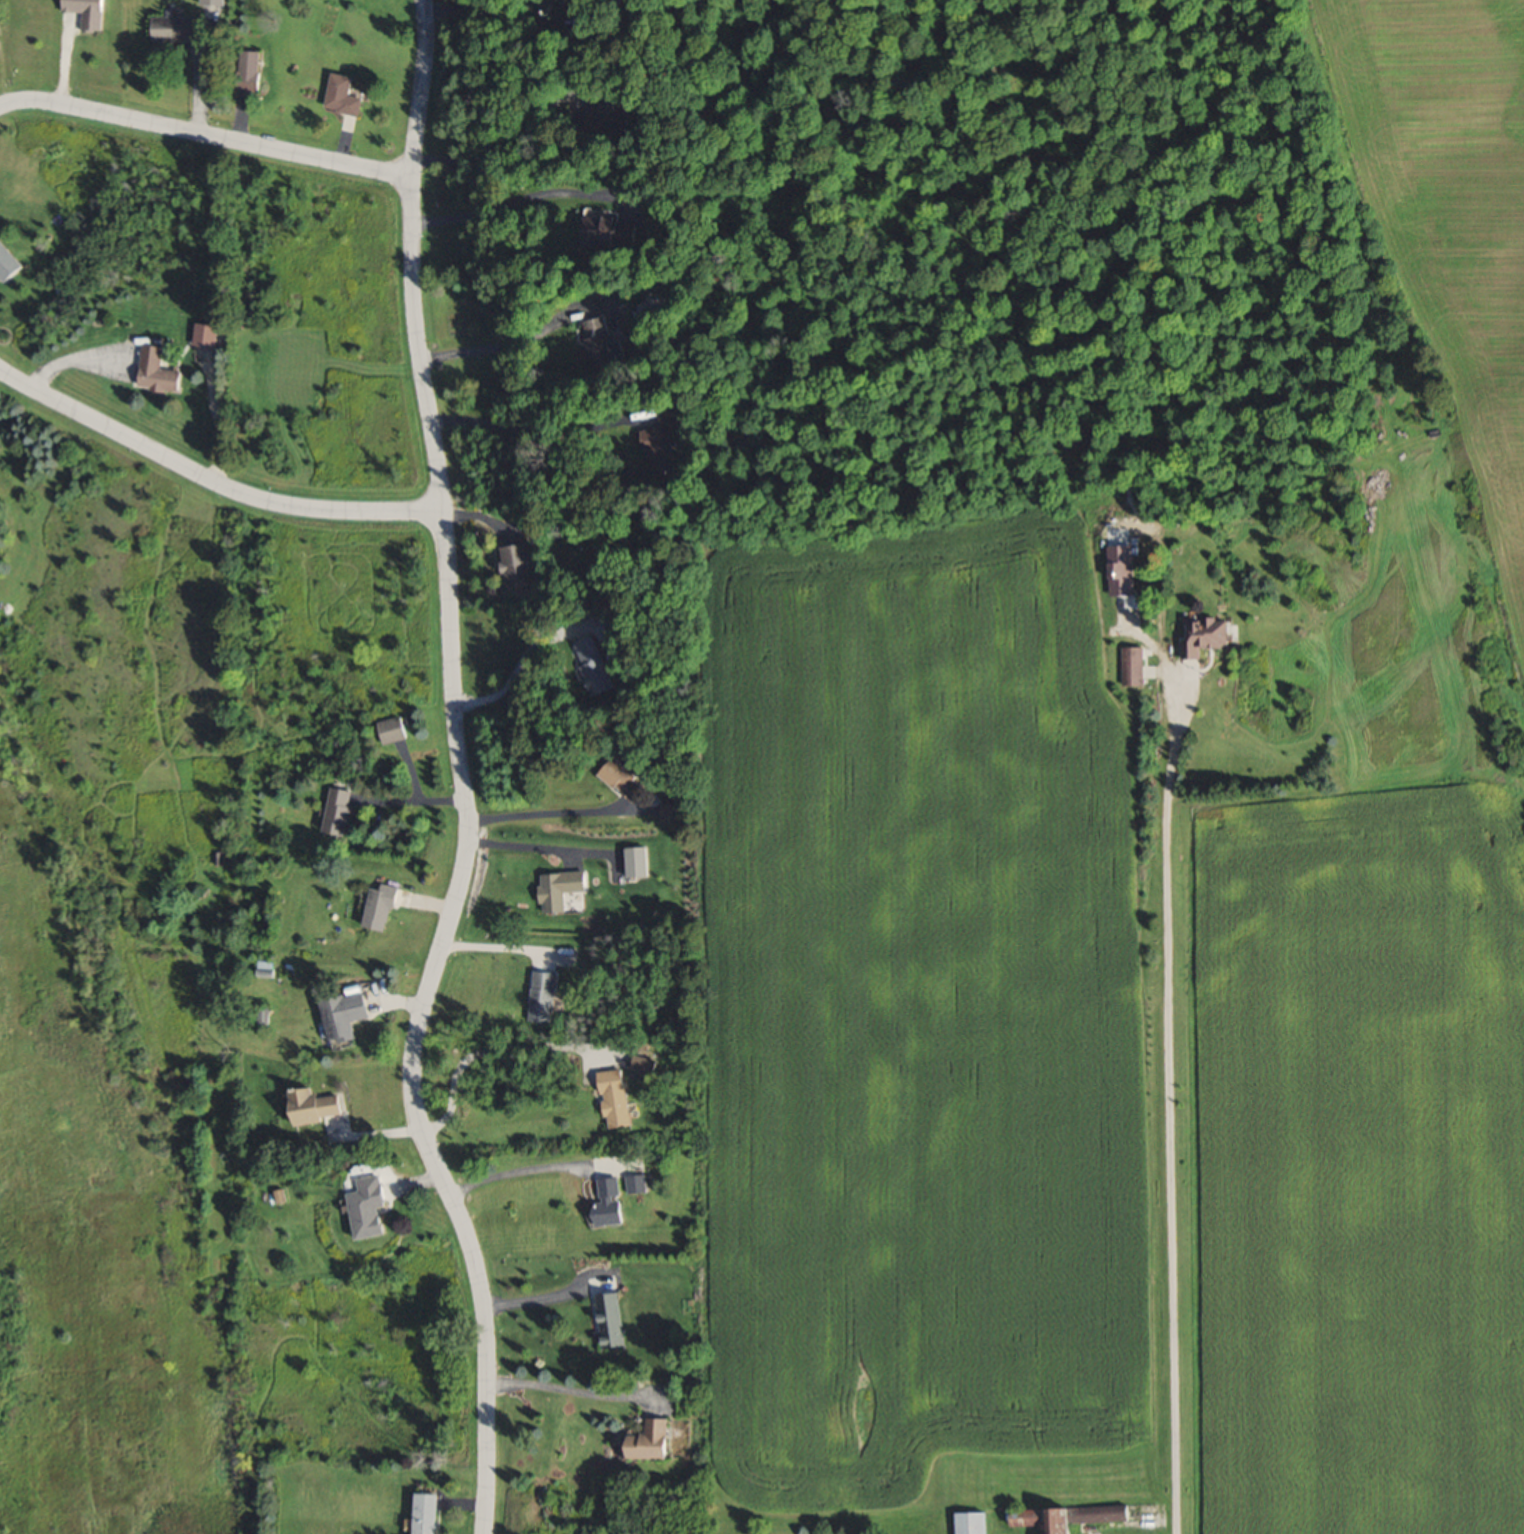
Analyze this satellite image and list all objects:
building: (544, 3)
building: (86, 12)
building: (179, 26)
building: (247, 69)
building: (341, 93)
building: (613, 111)
road: (204, 133)
building: (613, 229)
building: (7, 261)
building: (601, 342)
building: (157, 369)
building: (662, 438)
road: (208, 479)
building: (518, 560)
building: (1207, 635)
building: (593, 664)
building: (1132, 665)
building: (391, 728)
building: (614, 771)
road: (464, 776)
building: (338, 809)
building: (670, 812)
building: (558, 888)
building: (379, 906)
building: (264, 968)
building: (541, 996)
building: (340, 1018)
building: (641, 1066)
building: (614, 1097)
building: (314, 1105)
building: (635, 1183)
building: (608, 1201)
building: (369, 1205)
building: (607, 1318)
building: (651, 1440)
building: (426, 1513)
building: (1067, 1516)
building: (971, 1522)

